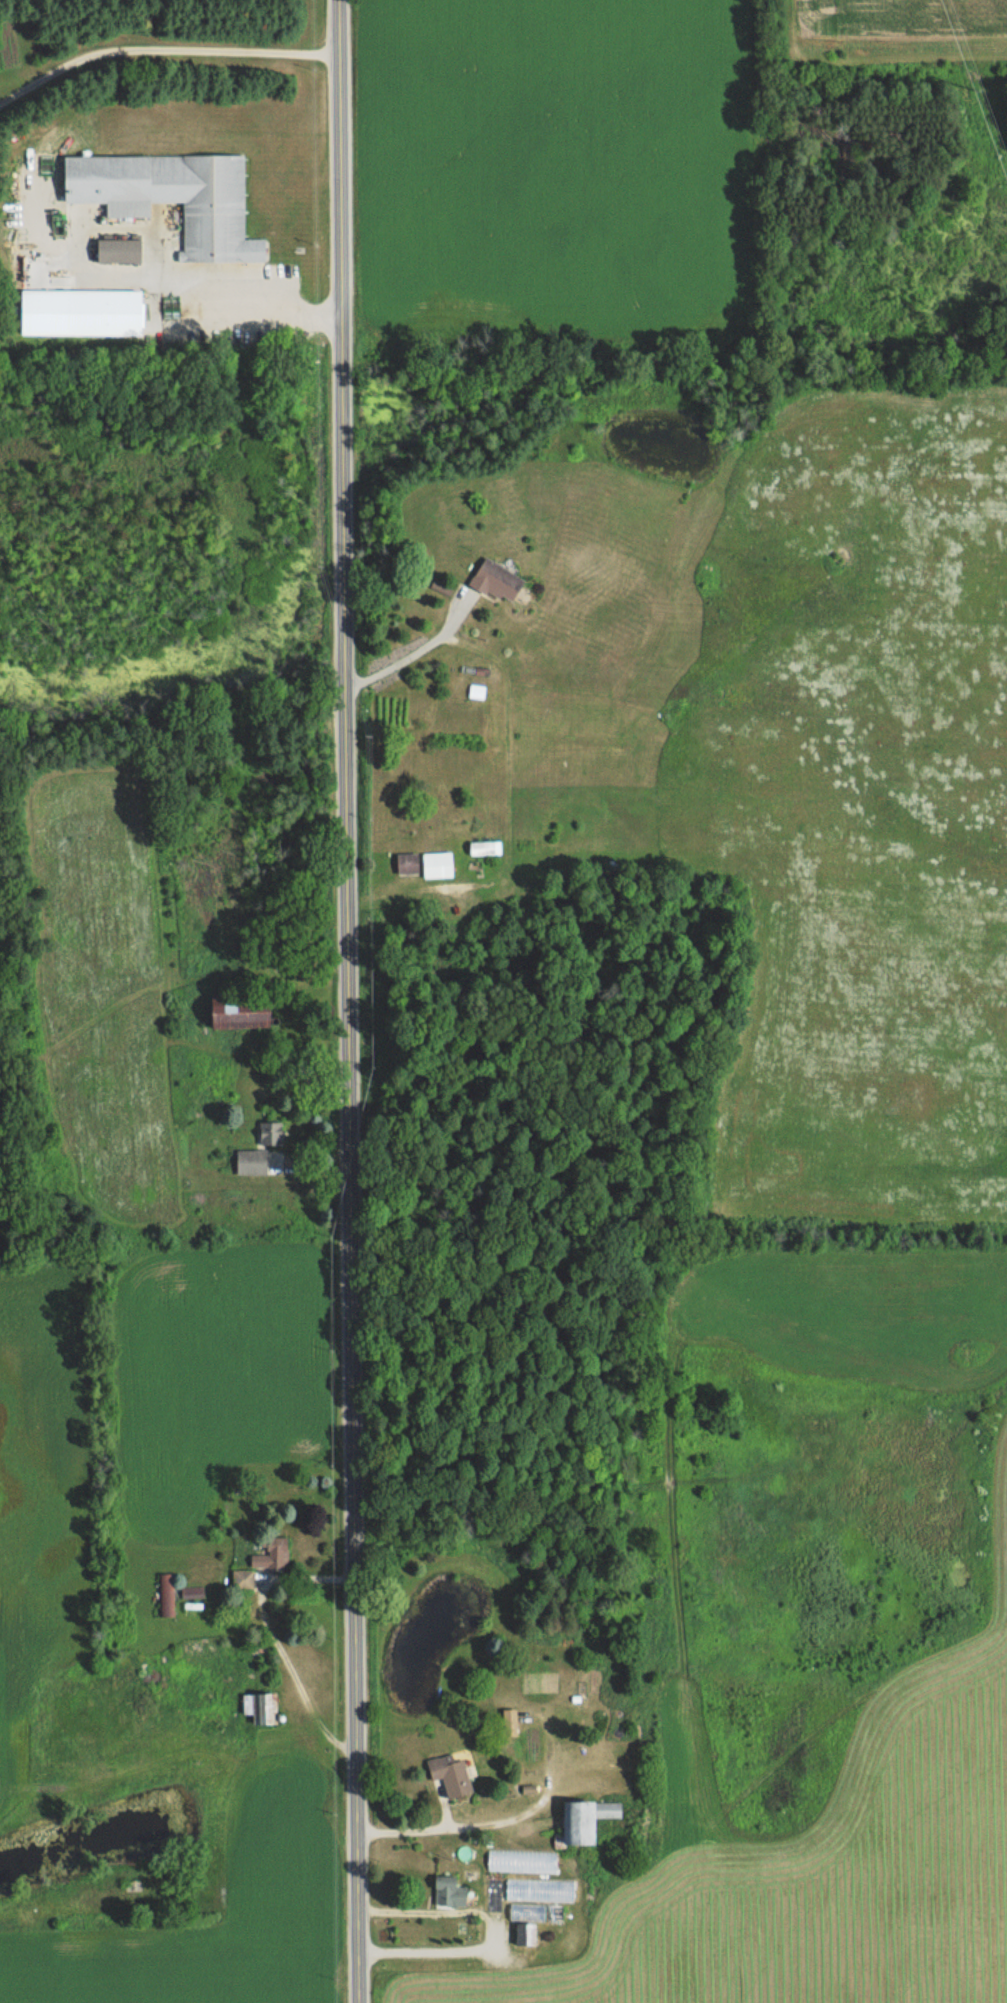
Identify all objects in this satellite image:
road: (162, 48)
building: (172, 197)
building: (118, 249)
road: (247, 293)
building: (105, 311)
building: (497, 580)
road: (409, 656)
building: (476, 692)
building: (484, 848)
building: (407, 863)
building: (437, 864)
road: (345, 1001)
building: (241, 1008)
building: (270, 1132)
building: (259, 1161)
building: (272, 1555)
building: (242, 1579)
building: (260, 1707)
building: (509, 1723)
building: (450, 1774)
building: (583, 1821)
building: (521, 1860)
building: (538, 1889)
building: (449, 1891)
building: (492, 1896)
building: (526, 1910)
road: (490, 1929)
building: (525, 1934)

